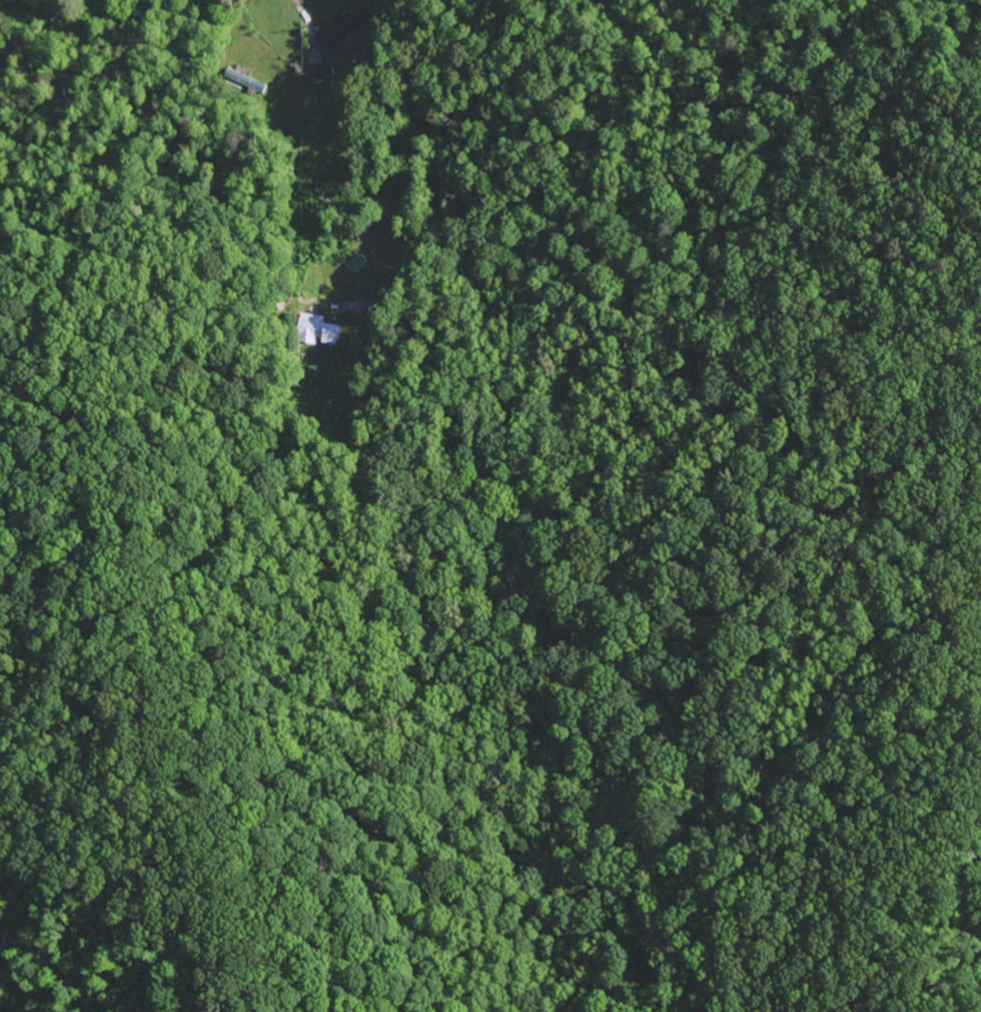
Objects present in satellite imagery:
road: (299, 10)
road: (400, 18)
building: (244, 80)
building: (317, 330)

